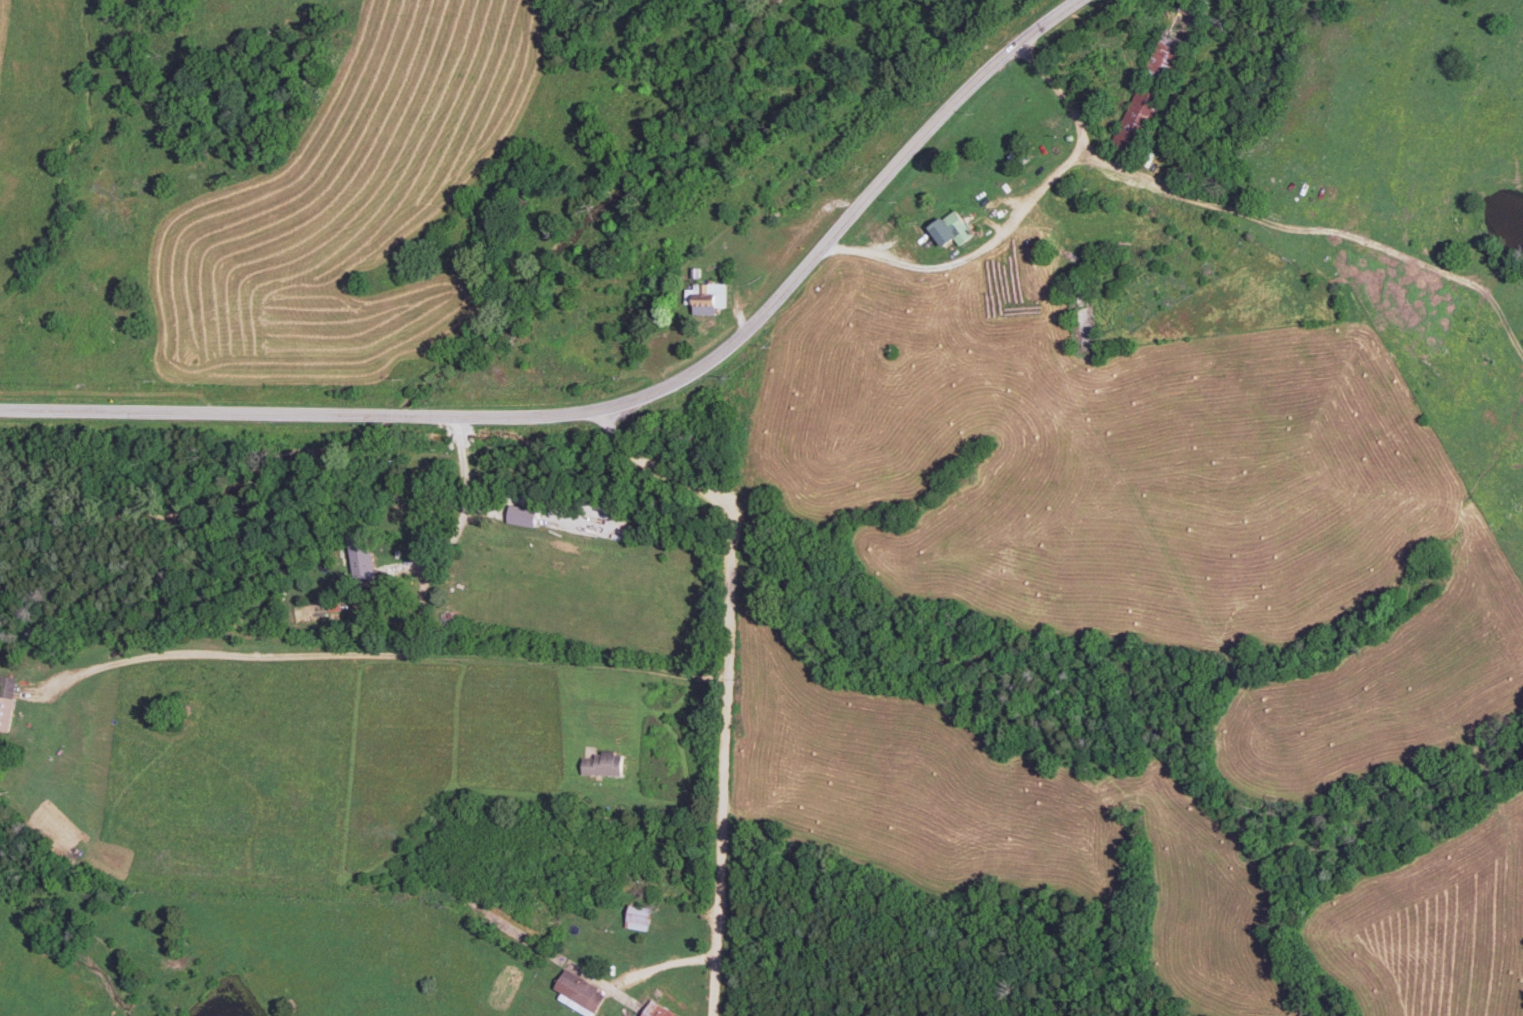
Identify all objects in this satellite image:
road: (1022, 210)
building: (951, 229)
building: (712, 296)
road: (619, 409)
building: (522, 516)
building: (365, 566)
road: (416, 657)
road: (752, 677)
building: (7, 700)
building: (602, 764)
building: (637, 917)
building: (579, 993)
road: (633, 1001)
building: (657, 1010)

